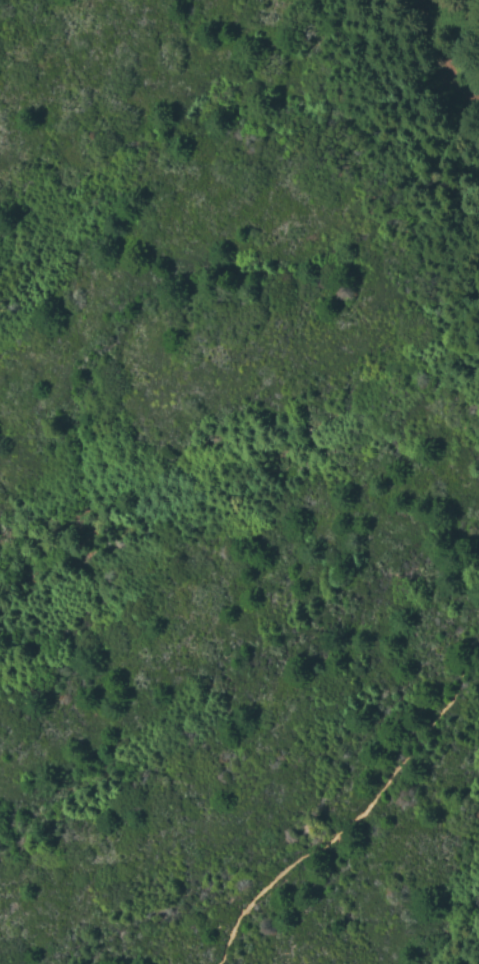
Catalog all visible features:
road: (439, 54)
road: (360, 817)

